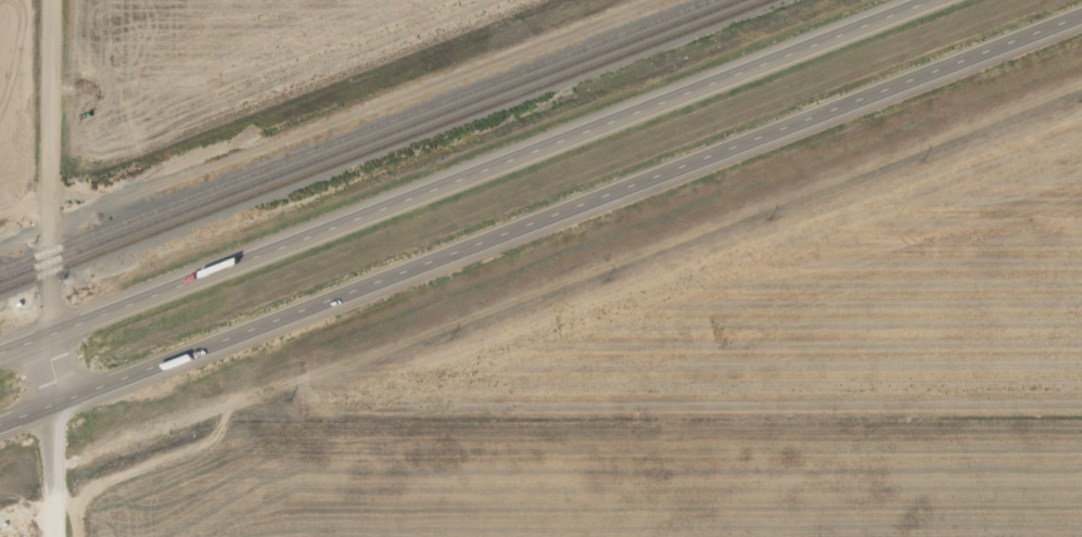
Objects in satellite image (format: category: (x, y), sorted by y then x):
road: (354, 111)
railway: (355, 133)
railway: (369, 140)
railway: (382, 144)
road: (464, 176)
road: (540, 220)
road: (51, 268)

